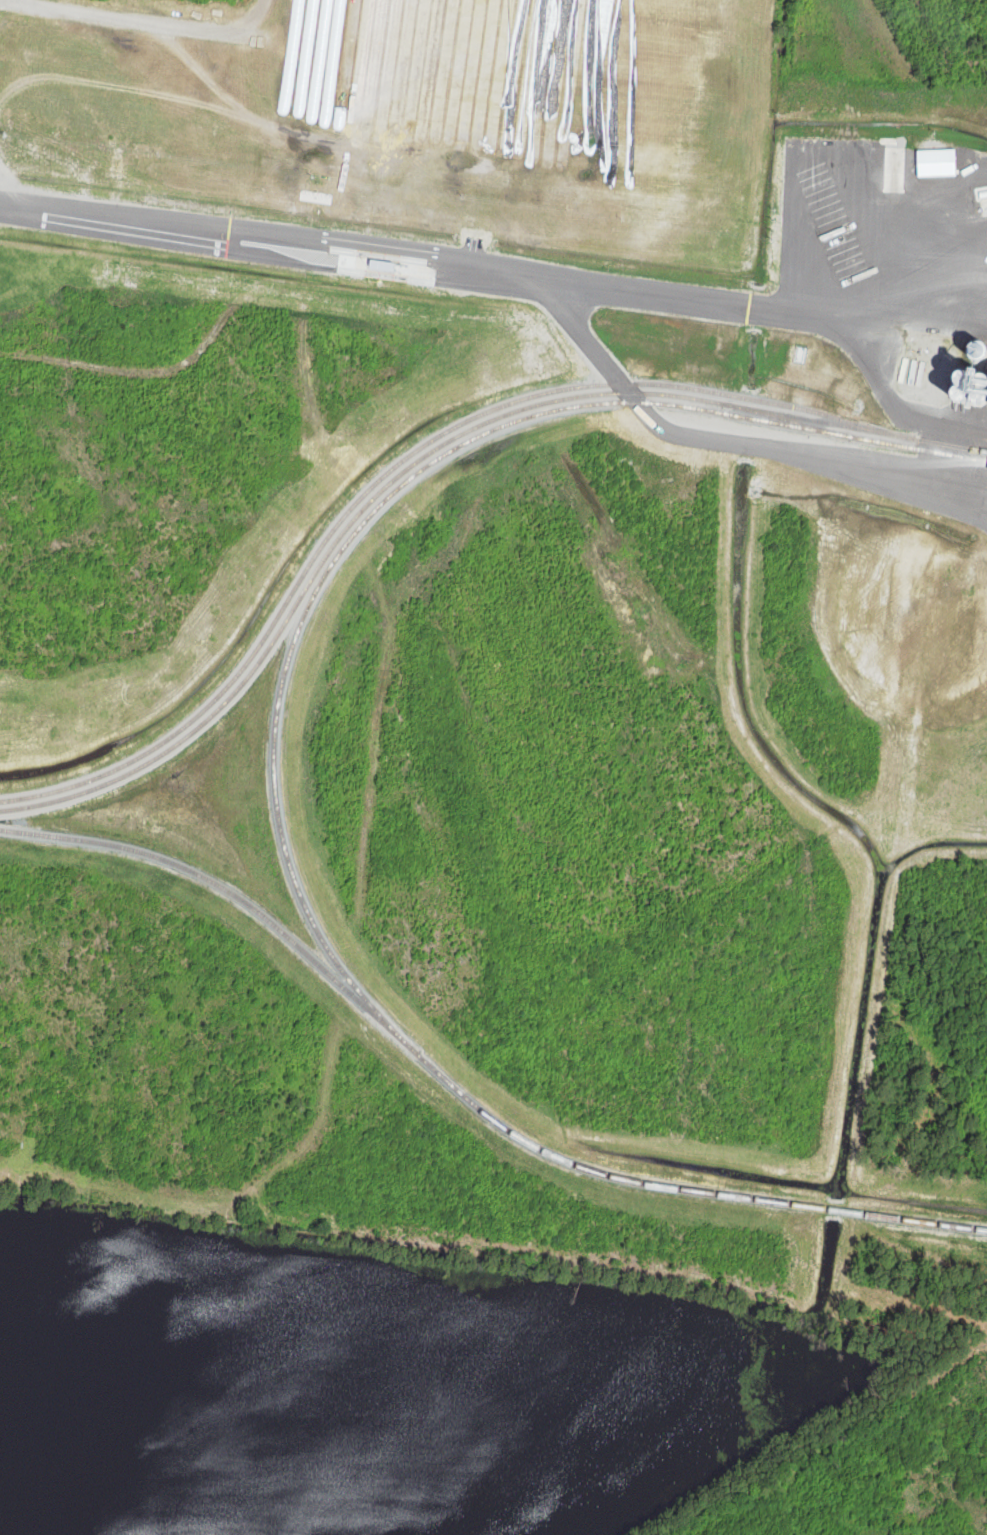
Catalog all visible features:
road: (271, 230)
road: (546, 282)
road: (901, 402)
road: (964, 489)

